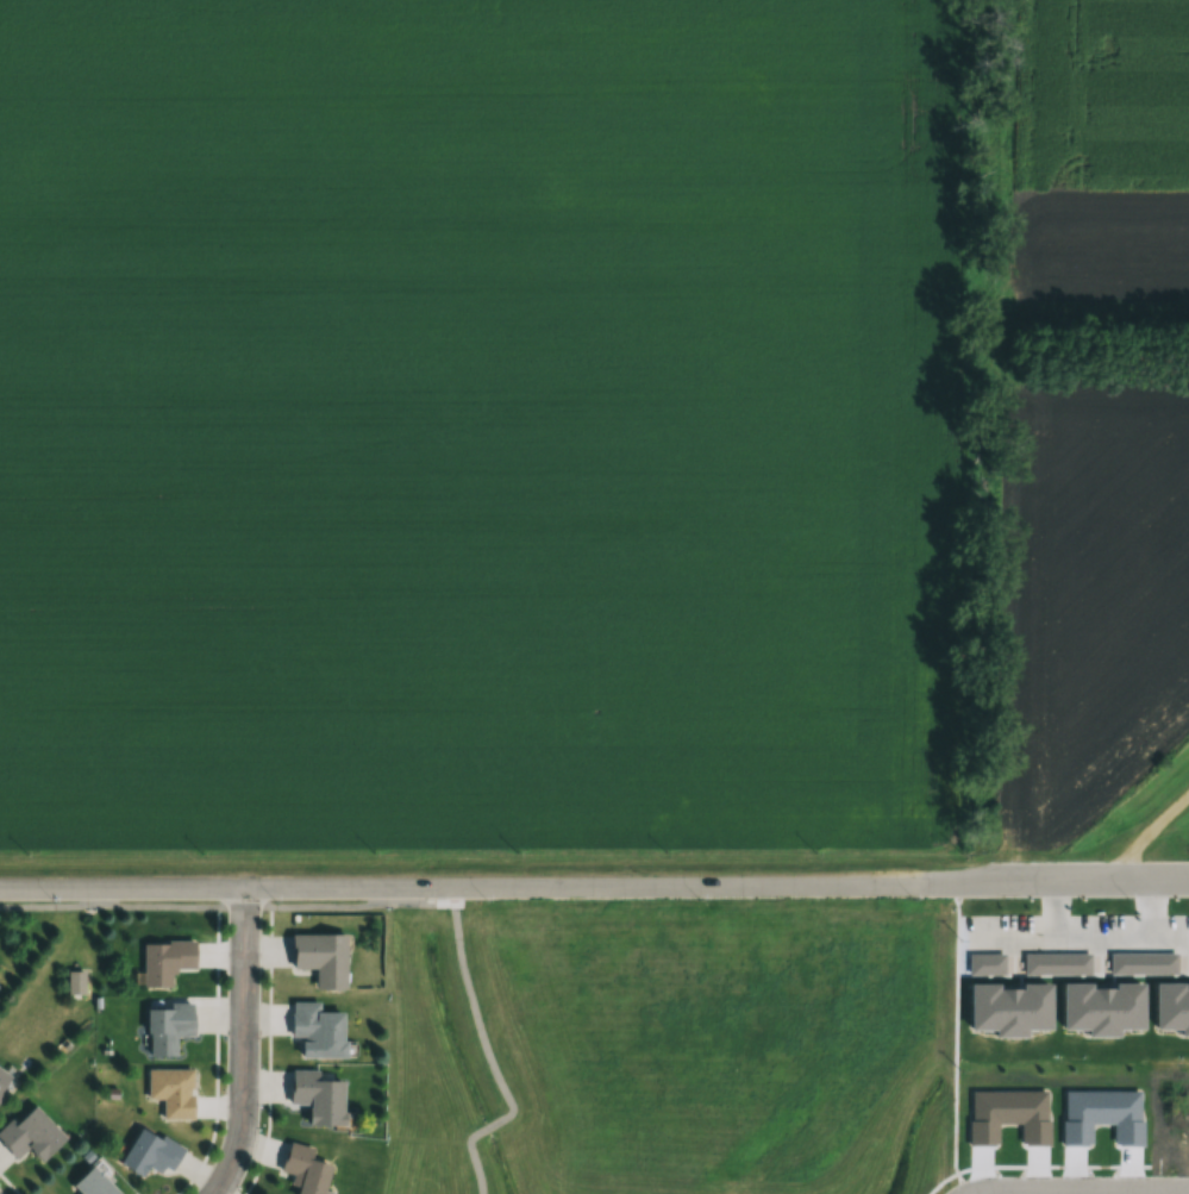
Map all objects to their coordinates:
road: (1144, 833)
road: (1064, 881)
road: (695, 886)
road: (225, 889)
road: (225, 907)
building: (320, 957)
building: (164, 959)
building: (73, 984)
building: (167, 1025)
building: (317, 1030)
road: (244, 1045)
road: (487, 1054)
building: (4, 1079)
building: (171, 1090)
building: (318, 1095)
building: (29, 1132)
building: (149, 1151)
building: (303, 1169)
building: (92, 1183)

